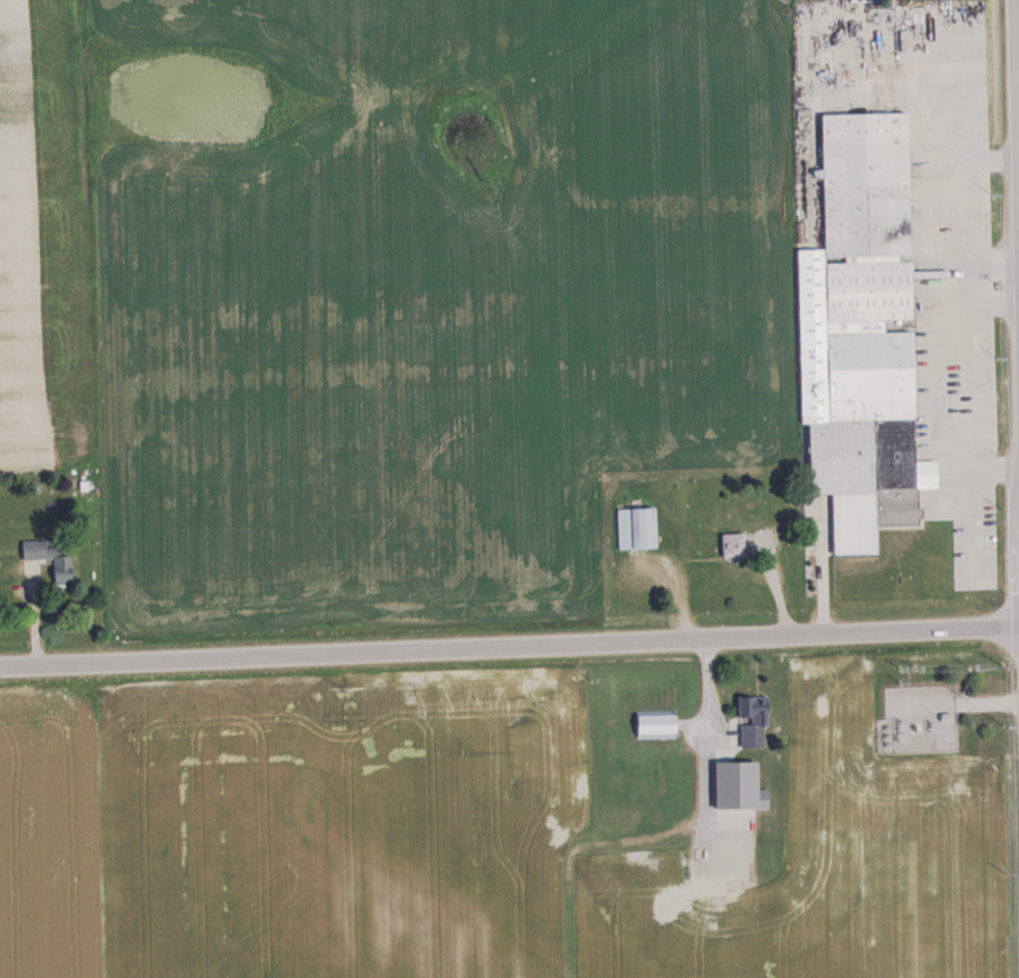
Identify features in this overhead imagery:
road: (1016, 93)
building: (861, 334)
building: (635, 528)
building: (732, 544)
building: (62, 570)
road: (509, 644)
building: (752, 720)
building: (655, 723)
building: (738, 786)

